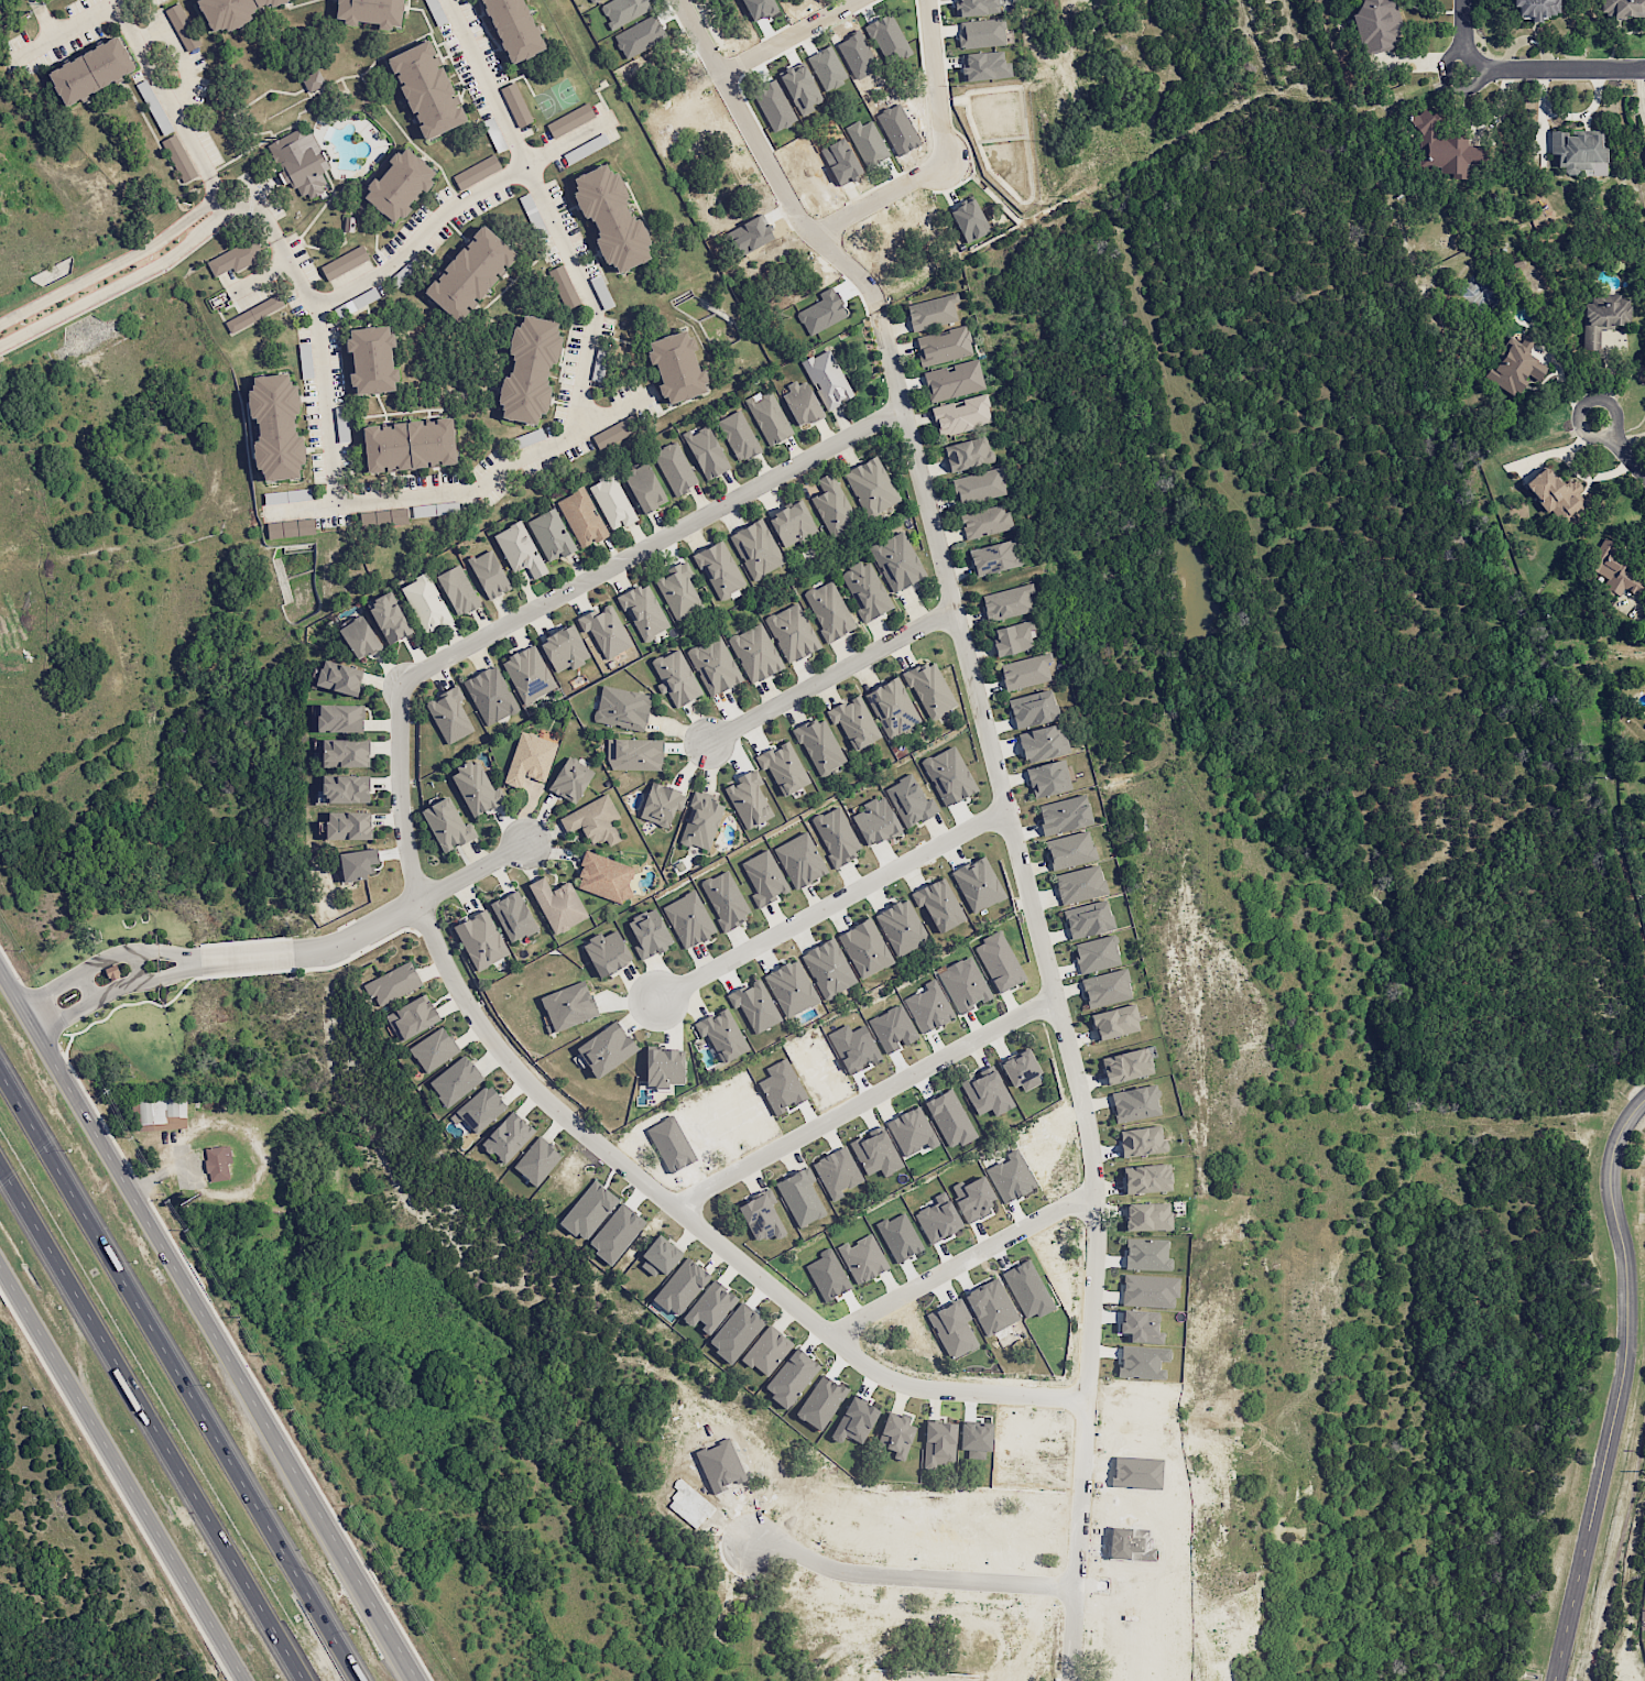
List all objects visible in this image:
building: (595, 0)
road: (35, 2)
building: (976, 7)
building: (1536, 8)
building: (1621, 8)
building: (232, 11)
building: (377, 11)
road: (46, 22)
building: (1376, 25)
building: (182, 26)
road: (1463, 26)
building: (521, 28)
road: (69, 31)
building: (981, 33)
road: (152, 35)
road: (791, 37)
road: (183, 59)
road: (1446, 67)
building: (97, 72)
road: (1564, 72)
building: (312, 80)
road: (937, 80)
road: (163, 90)
building: (432, 90)
park: (556, 99)
building: (515, 105)
building: (570, 120)
building: (1442, 149)
building: (1578, 152)
building: (178, 159)
building: (303, 163)
building: (476, 172)
road: (780, 179)
building: (405, 187)
road: (458, 205)
road: (241, 210)
road: (549, 214)
building: (617, 218)
building: (235, 258)
building: (344, 262)
road: (113, 266)
building: (476, 275)
building: (563, 286)
road: (119, 287)
building: (932, 313)
building: (254, 314)
building: (1602, 317)
building: (944, 346)
building: (375, 362)
building: (1515, 365)
building: (682, 369)
road: (322, 370)
building: (535, 371)
building: (827, 379)
building: (954, 380)
building: (800, 402)
building: (961, 414)
building: (767, 417)
building: (282, 428)
building: (612, 435)
building: (738, 436)
road: (1601, 438)
building: (413, 447)
building: (706, 451)
building: (967, 454)
road: (1624, 457)
building: (674, 468)
road: (1644, 476)
road: (1644, 477)
building: (979, 485)
building: (871, 487)
building: (644, 488)
road: (473, 491)
building: (1556, 494)
building: (286, 495)
building: (611, 502)
building: (832, 506)
building: (435, 509)
building: (383, 517)
building: (581, 517)
building: (984, 522)
building: (793, 524)
building: (291, 528)
building: (551, 535)
road: (653, 545)
building: (519, 549)
building: (756, 549)
building: (994, 557)
building: (896, 560)
building: (719, 569)
building: (1615, 571)
building: (489, 574)
building: (457, 590)
building: (865, 590)
building: (678, 591)
building: (1007, 602)
building: (425, 603)
building: (828, 611)
building: (643, 612)
building: (389, 618)
building: (604, 630)
building: (792, 633)
building: (359, 637)
building: (1014, 638)
building: (564, 648)
building: (754, 653)
building: (713, 666)
building: (1025, 672)
building: (529, 673)
building: (339, 677)
road: (830, 677)
building: (675, 678)
building: (929, 689)
building: (490, 696)
building: (892, 707)
building: (621, 708)
building: (1032, 709)
building: (449, 714)
building: (340, 718)
building: (853, 722)
building: (1043, 743)
building: (819, 745)
building: (346, 754)
building: (634, 754)
building: (529, 760)
building: (783, 767)
building: (948, 775)
building: (1047, 778)
building: (570, 779)
building: (475, 787)
building: (345, 789)
building: (748, 799)
building: (908, 801)
building: (661, 804)
building: (1064, 815)
building: (592, 820)
building: (700, 821)
building: (875, 821)
building: (447, 825)
building: (348, 826)
building: (836, 836)
road: (1013, 836)
building: (1069, 850)
building: (799, 860)
building: (357, 863)
building: (604, 876)
building: (764, 877)
building: (978, 884)
building: (1079, 884)
road: (827, 898)
building: (725, 899)
road: (413, 905)
building: (557, 905)
building: (938, 905)
building: (513, 916)
building: (688, 919)
building: (1088, 919)
building: (901, 927)
building: (649, 934)
building: (480, 940)
building: (864, 948)
building: (606, 952)
road: (170, 953)
building: (1096, 953)
road: (249, 958)
building: (999, 962)
road: (139, 968)
building: (828, 969)
road: (78, 975)
road: (173, 975)
building: (392, 983)
building: (965, 985)
road: (90, 986)
building: (1105, 987)
building: (791, 989)
road: (89, 1005)
building: (568, 1005)
building: (754, 1006)
building: (928, 1006)
building: (412, 1017)
building: (1114, 1022)
building: (892, 1028)
building: (721, 1035)
building: (853, 1048)
building: (434, 1049)
building: (604, 1049)
building: (1125, 1066)
building: (663, 1068)
building: (1021, 1070)
building: (455, 1081)
building: (781, 1087)
building: (987, 1093)
road: (865, 1101)
building: (1135, 1103)
building: (479, 1109)
building: (949, 1118)
building: (911, 1131)
building: (508, 1137)
building: (1141, 1140)
building: (875, 1154)
building: (536, 1160)
road: (612, 1161)
building: (217, 1162)
building: (837, 1172)
building: (1146, 1178)
building: (799, 1197)
building: (588, 1211)
building: (761, 1216)
building: (1147, 1216)
building: (615, 1233)
building: (1146, 1254)
building: (660, 1257)
building: (862, 1258)
road: (961, 1260)
building: (680, 1287)
building: (1148, 1290)
building: (710, 1307)
building: (990, 1307)
road: (210, 1323)
building: (1141, 1325)
building: (952, 1329)
building: (736, 1332)
building: (766, 1350)
road: (179, 1377)
building: (791, 1377)
road: (1620, 1388)
building: (822, 1402)
road: (153, 1427)
building: (895, 1434)
building: (938, 1443)
road: (122, 1473)
road: (912, 1575)
road: (1078, 1581)

